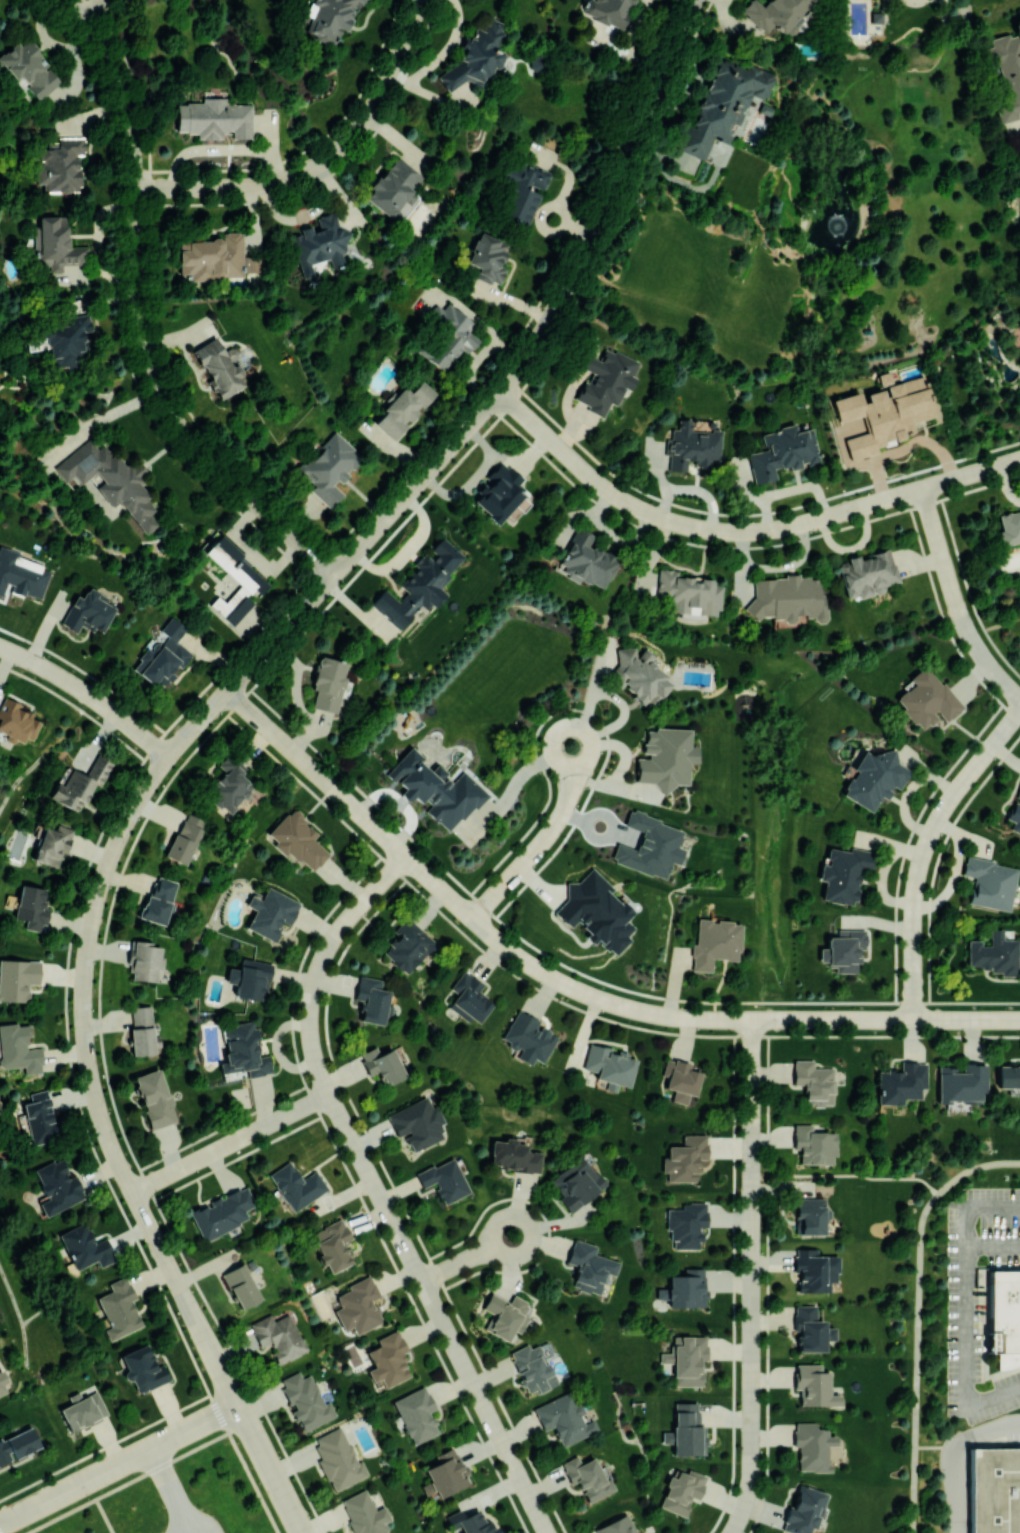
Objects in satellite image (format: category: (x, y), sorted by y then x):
road: (86, 8)
building: (608, 10)
building: (775, 12)
building: (329, 17)
building: (475, 57)
building: (29, 69)
building: (1007, 76)
building: (723, 101)
building: (214, 118)
road: (322, 162)
building: (60, 165)
building: (1017, 171)
building: (394, 189)
building: (520, 191)
road: (605, 200)
park: (826, 236)
building: (320, 243)
building: (56, 245)
building: (215, 258)
building: (488, 258)
road: (135, 315)
building: (449, 338)
building: (64, 340)
building: (218, 368)
building: (606, 380)
building: (402, 407)
building: (881, 414)
building: (691, 446)
building: (783, 452)
building: (328, 468)
building: (110, 480)
building: (499, 491)
building: (108, 509)
building: (1009, 527)
road: (741, 531)
road: (362, 543)
building: (581, 556)
building: (238, 570)
building: (868, 573)
building: (21, 576)
building: (419, 584)
building: (687, 593)
building: (786, 598)
road: (955, 601)
building: (88, 611)
building: (162, 655)
building: (640, 674)
building: (328, 683)
road: (88, 696)
building: (927, 699)
building: (16, 721)
road: (196, 725)
building: (666, 757)
building: (873, 779)
building: (80, 784)
building: (229, 785)
building: (436, 788)
building: (1015, 813)
building: (185, 838)
building: (297, 840)
road: (544, 840)
building: (52, 844)
building: (649, 846)
road: (924, 850)
building: (843, 873)
building: (990, 883)
building: (158, 900)
building: (31, 907)
building: (595, 911)
building: (271, 912)
building: (715, 943)
building: (407, 946)
building: (843, 950)
building: (994, 954)
road: (524, 959)
building: (143, 961)
building: (17, 978)
building: (249, 979)
building: (468, 998)
building: (371, 1000)
road: (967, 1020)
building: (141, 1030)
building: (528, 1037)
building: (18, 1049)
building: (244, 1051)
building: (609, 1064)
building: (382, 1065)
building: (1008, 1076)
building: (680, 1080)
building: (814, 1082)
building: (961, 1082)
building: (901, 1083)
road: (93, 1086)
building: (154, 1098)
building: (39, 1117)
building: (417, 1124)
road: (231, 1143)
building: (814, 1145)
building: (513, 1155)
building: (684, 1158)
road: (856, 1176)
building: (444, 1180)
building: (575, 1183)
building: (296, 1185)
building: (57, 1186)
road: (377, 1191)
building: (222, 1213)
building: (809, 1214)
building: (686, 1225)
building: (332, 1245)
building: (85, 1247)
road: (468, 1258)
building: (588, 1267)
building: (814, 1270)
road: (751, 1277)
building: (241, 1286)
building: (684, 1289)
road: (967, 1305)
building: (358, 1306)
building: (119, 1308)
road: (918, 1316)
building: (1004, 1324)
building: (808, 1329)
building: (274, 1336)
building: (388, 1359)
building: (686, 1359)
building: (530, 1367)
building: (143, 1369)
building: (3, 1385)
building: (813, 1386)
building: (305, 1400)
building: (82, 1409)
building: (416, 1414)
building: (564, 1419)
building: (686, 1430)
building: (17, 1444)
building: (812, 1446)
road: (955, 1455)
building: (338, 1459)
road: (118, 1463)
road: (270, 1468)
building: (444, 1474)
building: (588, 1477)
road: (170, 1489)
building: (681, 1490)
building: (994, 1490)
building: (804, 1510)
building: (364, 1513)
road: (198, 1522)
building: (470, 1522)
building: (615, 1526)

